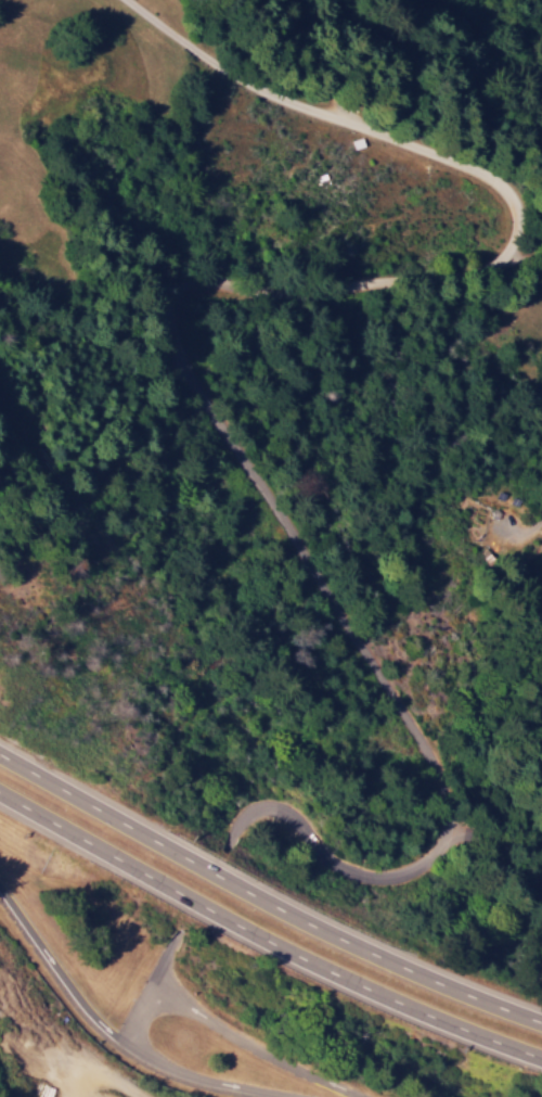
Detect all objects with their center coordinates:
road: (173, 317)
road: (264, 900)
road: (267, 944)
road: (57, 985)
road: (160, 993)
road: (254, 1049)
road: (196, 1082)

